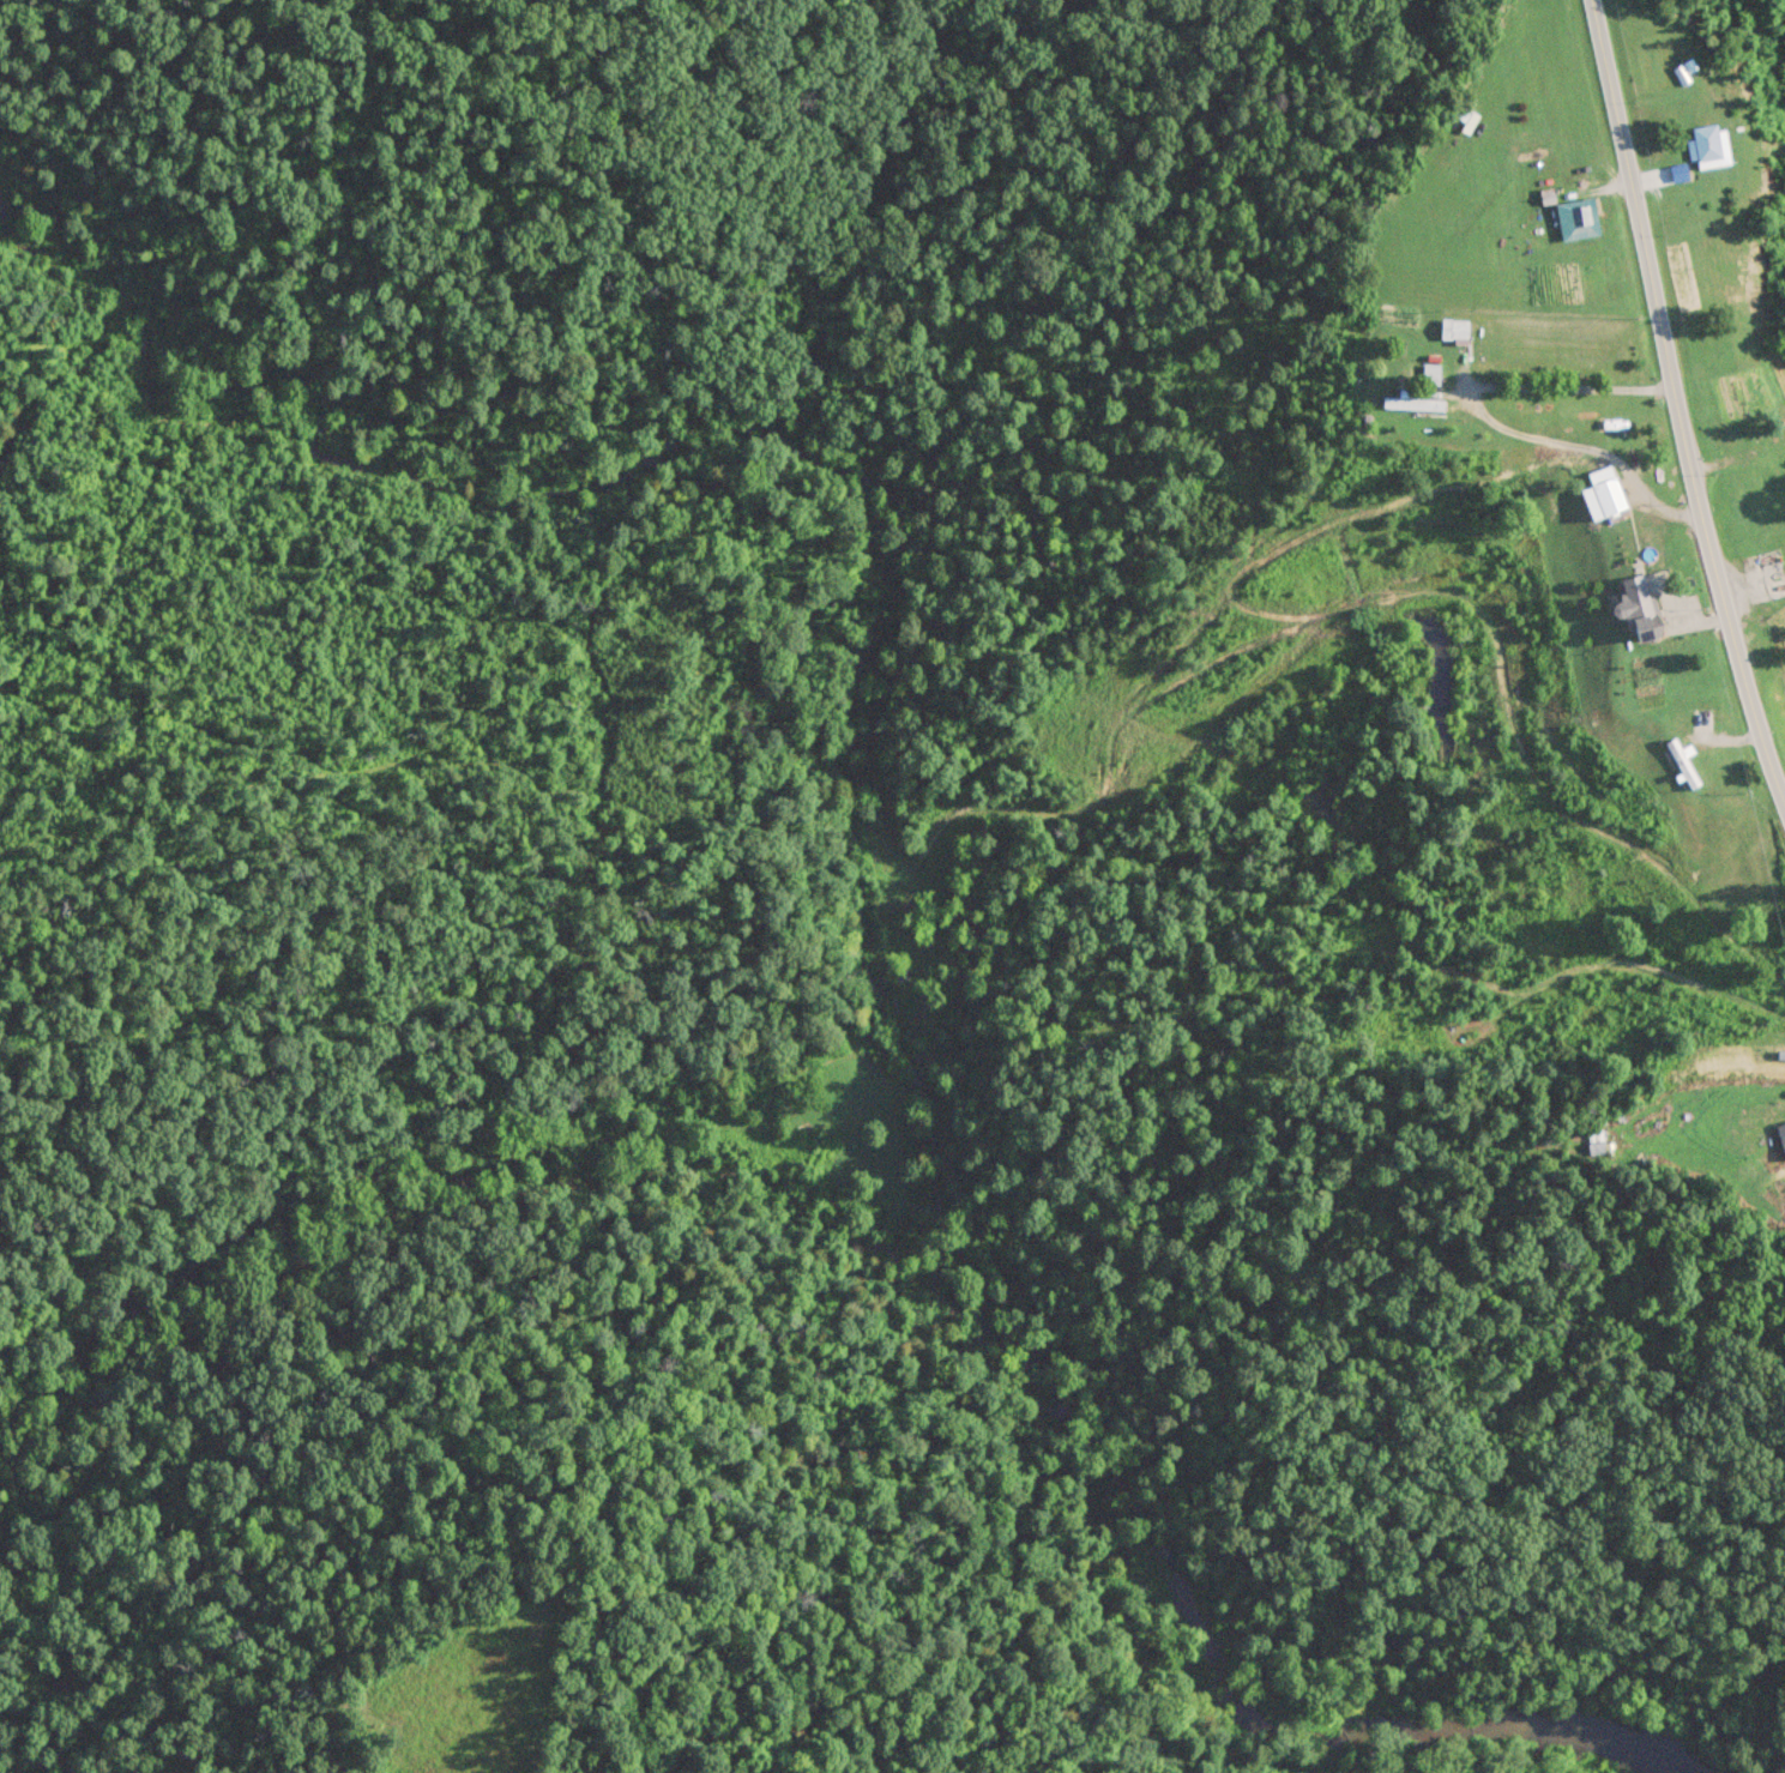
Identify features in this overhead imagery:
building: (1708, 146)
building: (1578, 221)
building: (1453, 328)
building: (1430, 375)
building: (1412, 404)
road: (1677, 406)
road: (1487, 420)
building: (1603, 493)
building: (1639, 607)
building: (1682, 761)
building: (1781, 1134)

